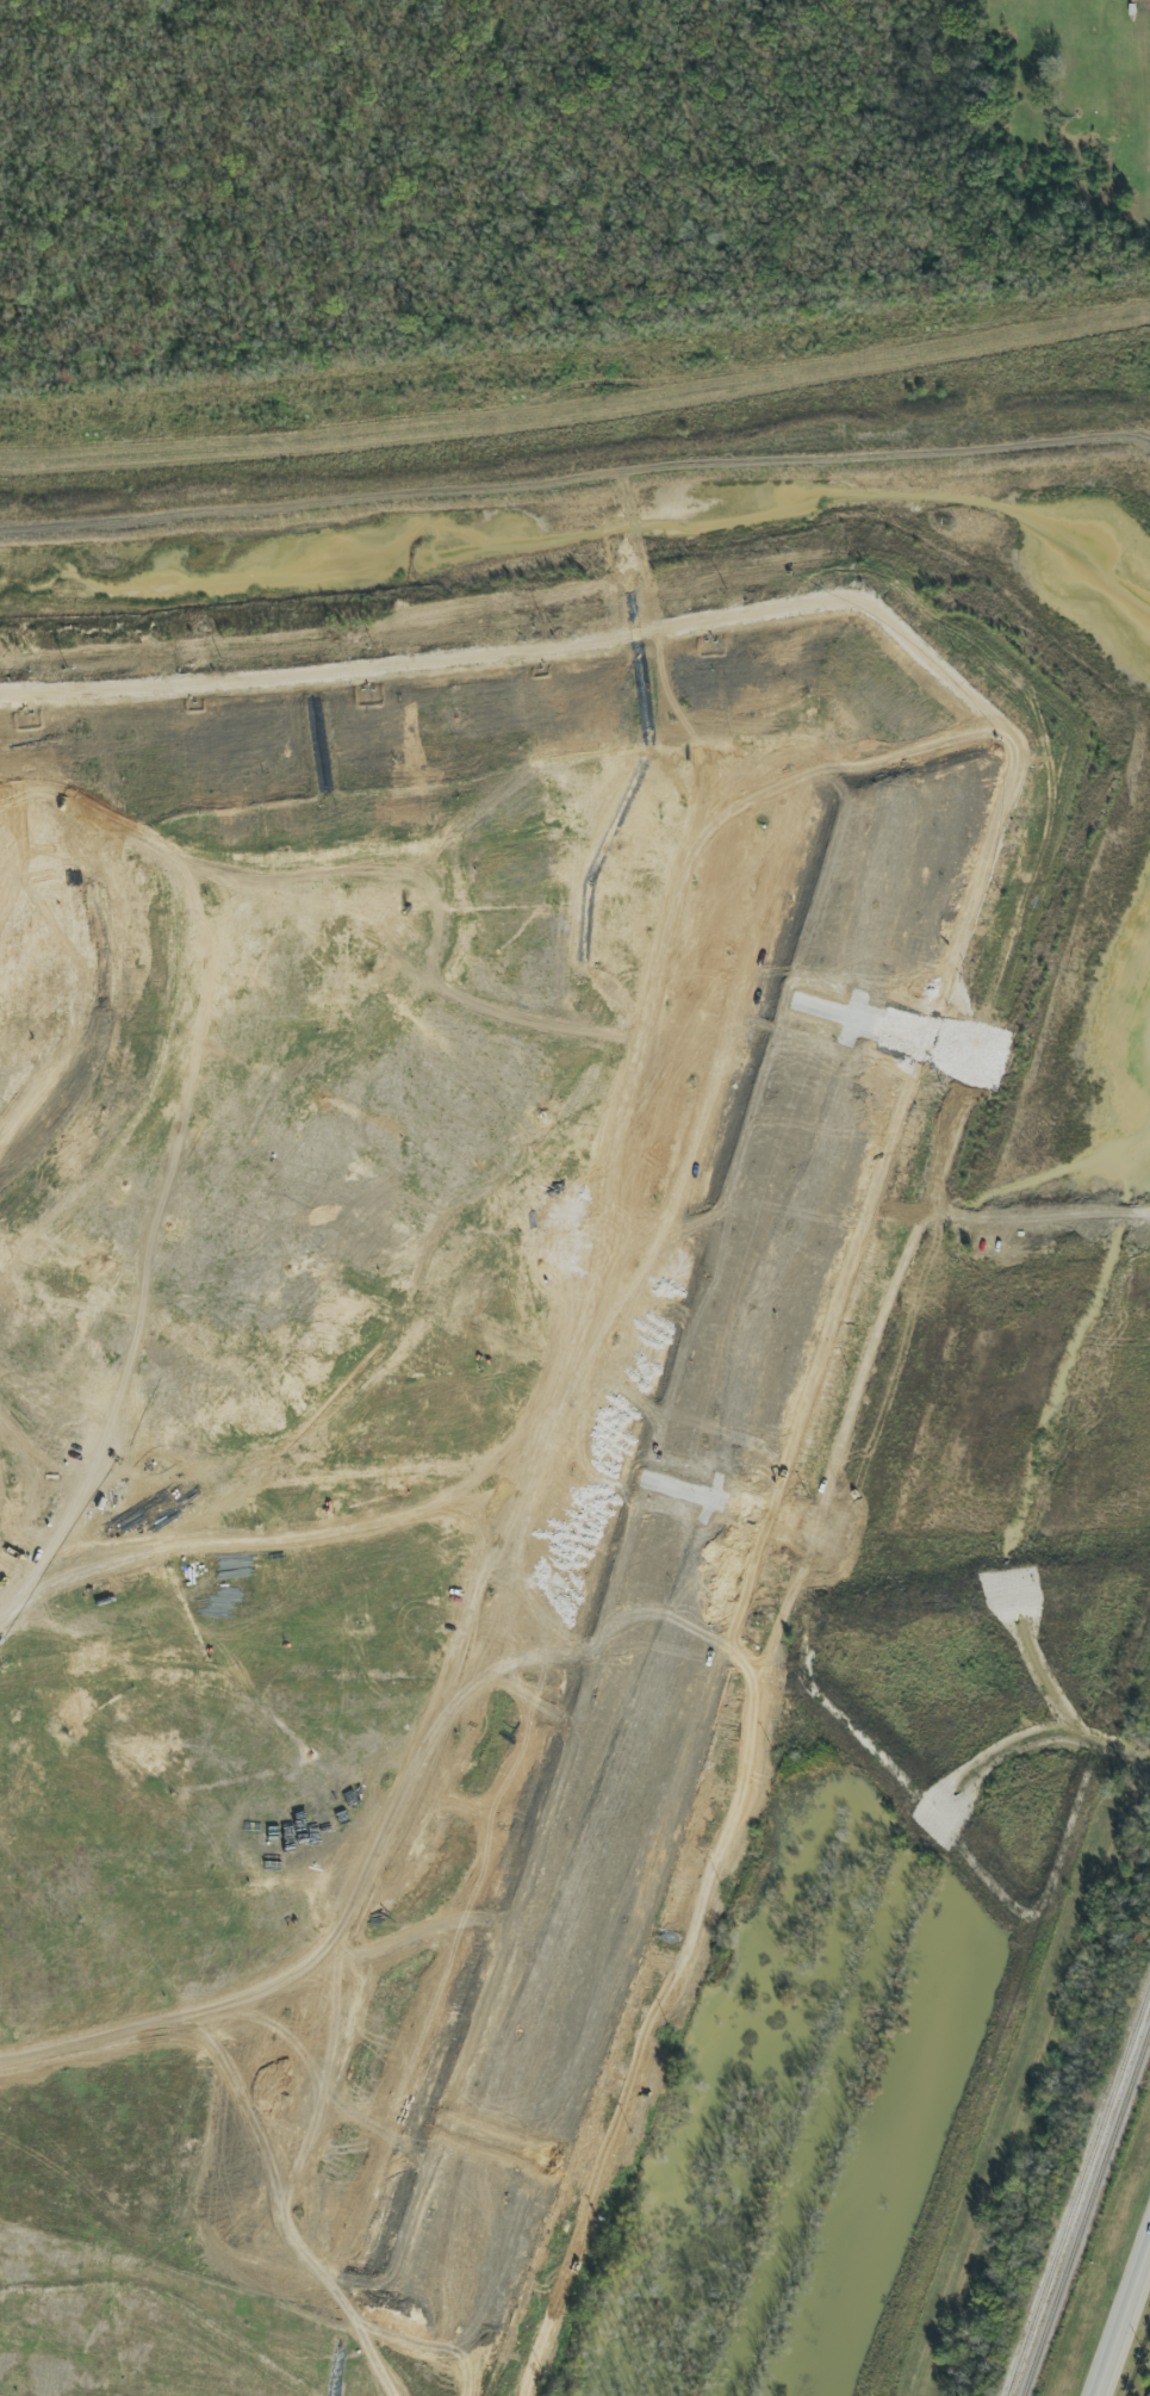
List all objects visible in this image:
road: (1109, 1216)
landfill: (447, 1455)
railway: (1080, 2189)
railway: (1086, 2210)
road: (1121, 2314)

